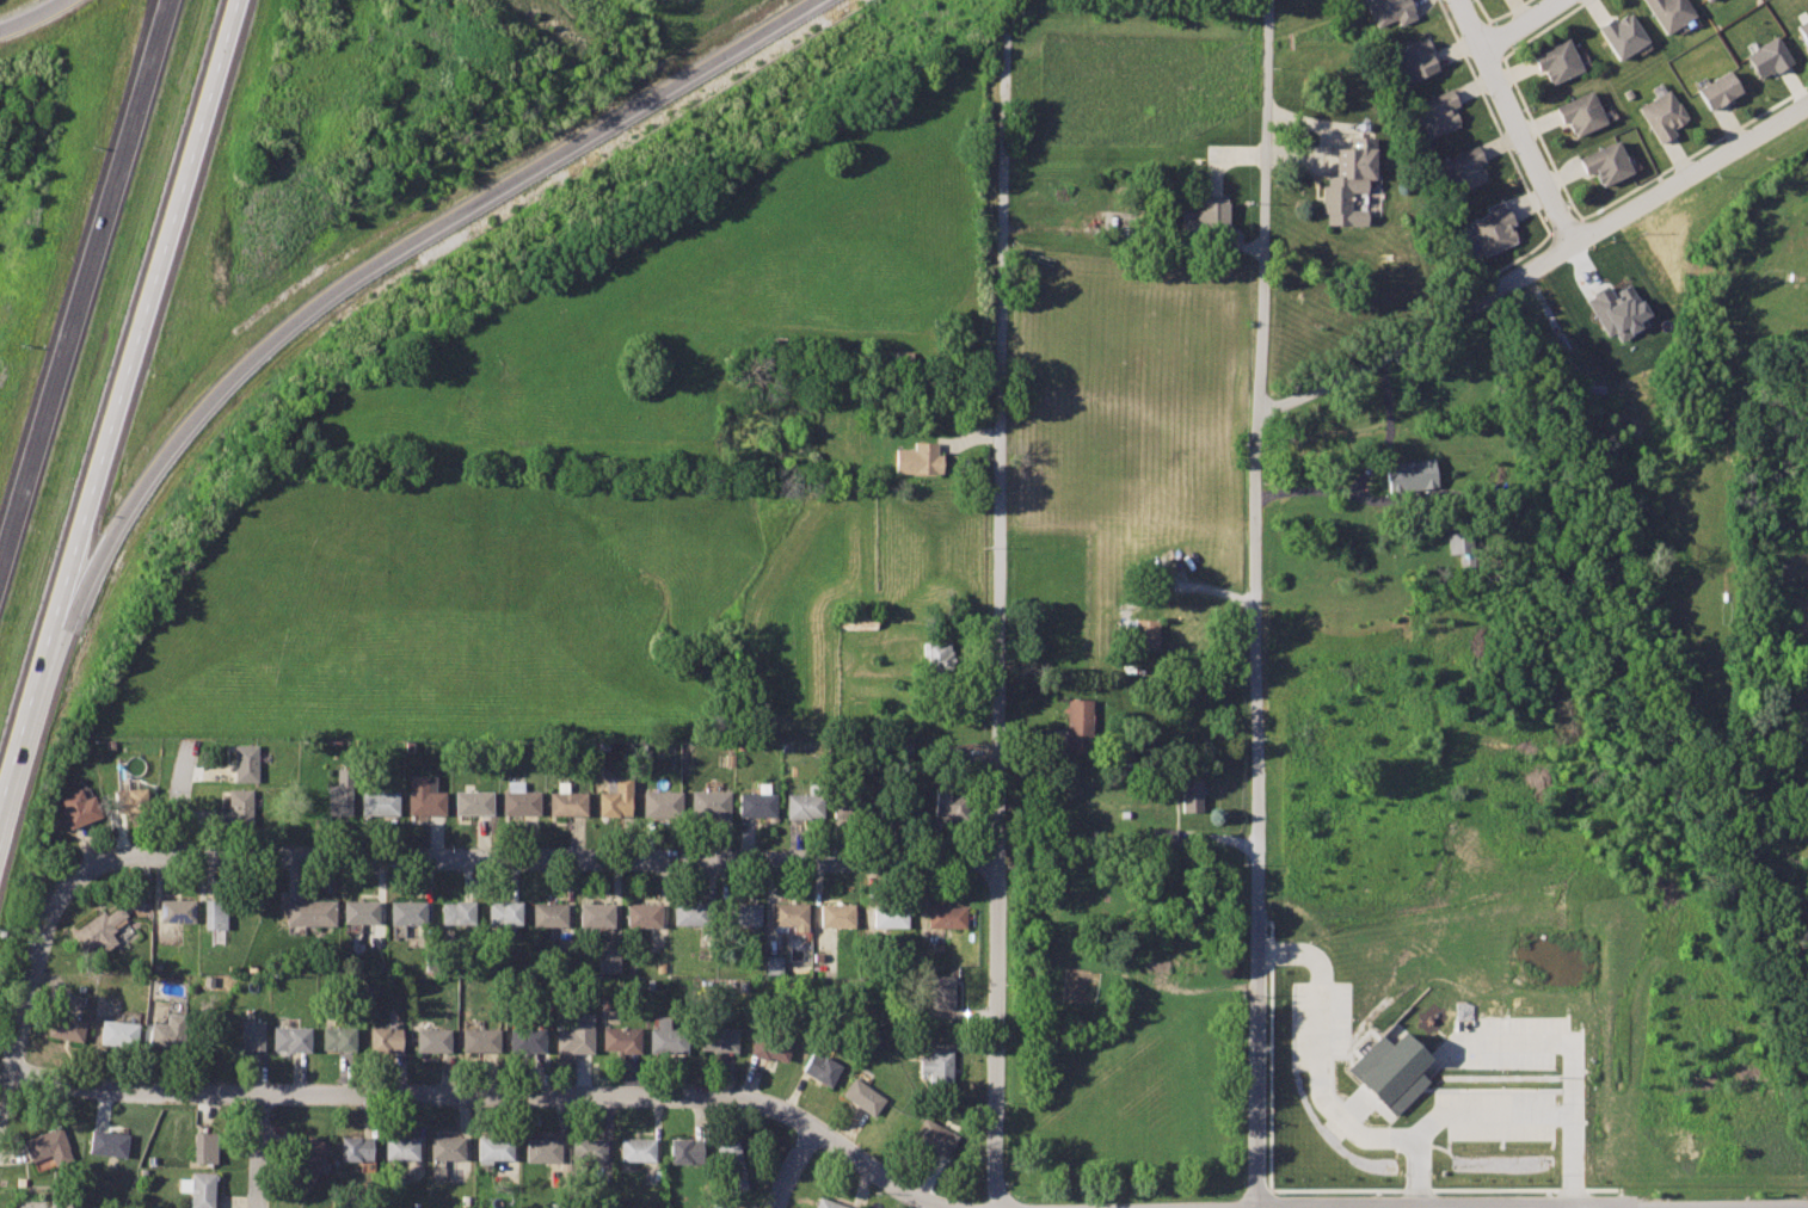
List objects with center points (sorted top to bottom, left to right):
building: (1708, 0)
road: (1481, 10)
road: (1507, 10)
building: (1390, 11)
building: (1668, 12)
road: (29, 14)
road: (1520, 24)
road: (1544, 27)
building: (1803, 29)
building: (1622, 35)
road: (1493, 39)
building: (1767, 57)
building: (1415, 60)
building: (1555, 61)
building: (1715, 91)
building: (1438, 112)
building: (1579, 113)
building: (1664, 115)
road: (1492, 116)
road: (1515, 121)
road: (1539, 137)
road: (1695, 152)
building: (1604, 164)
building: (1465, 168)
building: (1349, 181)
building: (1205, 222)
road: (1564, 224)
building: (1493, 228)
building: (1157, 238)
road: (1519, 254)
road: (393, 255)
road: (1537, 265)
road: (81, 279)
road: (147, 307)
building: (1615, 309)
road: (968, 433)
building: (918, 458)
road: (1370, 463)
building: (1413, 474)
road: (1370, 495)
building: (1460, 542)
road: (1188, 586)
road: (1257, 603)
road: (1000, 620)
building: (1140, 631)
building: (937, 659)
road: (29, 721)
building: (1078, 725)
building: (246, 762)
building: (342, 791)
building: (1189, 793)
building: (425, 797)
building: (616, 797)
road: (179, 799)
building: (134, 800)
building: (519, 800)
building: (567, 801)
building: (947, 801)
building: (711, 802)
building: (757, 802)
building: (903, 802)
building: (380, 803)
building: (473, 803)
building: (663, 803)
building: (805, 806)
building: (854, 806)
building: (240, 807)
building: (80, 808)
building: (1162, 834)
road: (1220, 839)
road: (547, 862)
building: (177, 911)
building: (361, 911)
building: (309, 912)
building: (408, 912)
building: (459, 912)
building: (504, 912)
building: (689, 913)
building: (215, 914)
building: (551, 914)
building: (597, 914)
building: (743, 914)
building: (837, 914)
building: (891, 914)
building: (644, 916)
building: (792, 916)
building: (946, 916)
building: (99, 930)
building: (609, 960)
building: (771, 961)
road: (31, 974)
building: (941, 992)
building: (66, 1027)
building: (166, 1031)
building: (118, 1033)
building: (576, 1033)
building: (251, 1035)
building: (290, 1037)
building: (338, 1037)
building: (385, 1037)
building: (668, 1037)
building: (622, 1038)
building: (720, 1038)
building: (432, 1040)
building: (481, 1040)
building: (527, 1040)
building: (770, 1046)
building: (937, 1067)
building: (820, 1068)
building: (1391, 1070)
road: (1320, 1090)
road: (491, 1095)
building: (863, 1096)
road: (1535, 1111)
building: (934, 1136)
building: (109, 1144)
building: (49, 1146)
building: (204, 1147)
building: (401, 1147)
building: (356, 1148)
building: (448, 1148)
building: (496, 1148)
building: (588, 1148)
building: (543, 1150)
building: (637, 1150)
road: (259, 1151)
building: (688, 1151)
building: (308, 1161)
road: (791, 1163)
building: (731, 1167)
building: (198, 1189)
building: (828, 1204)
road: (771, 1206)

